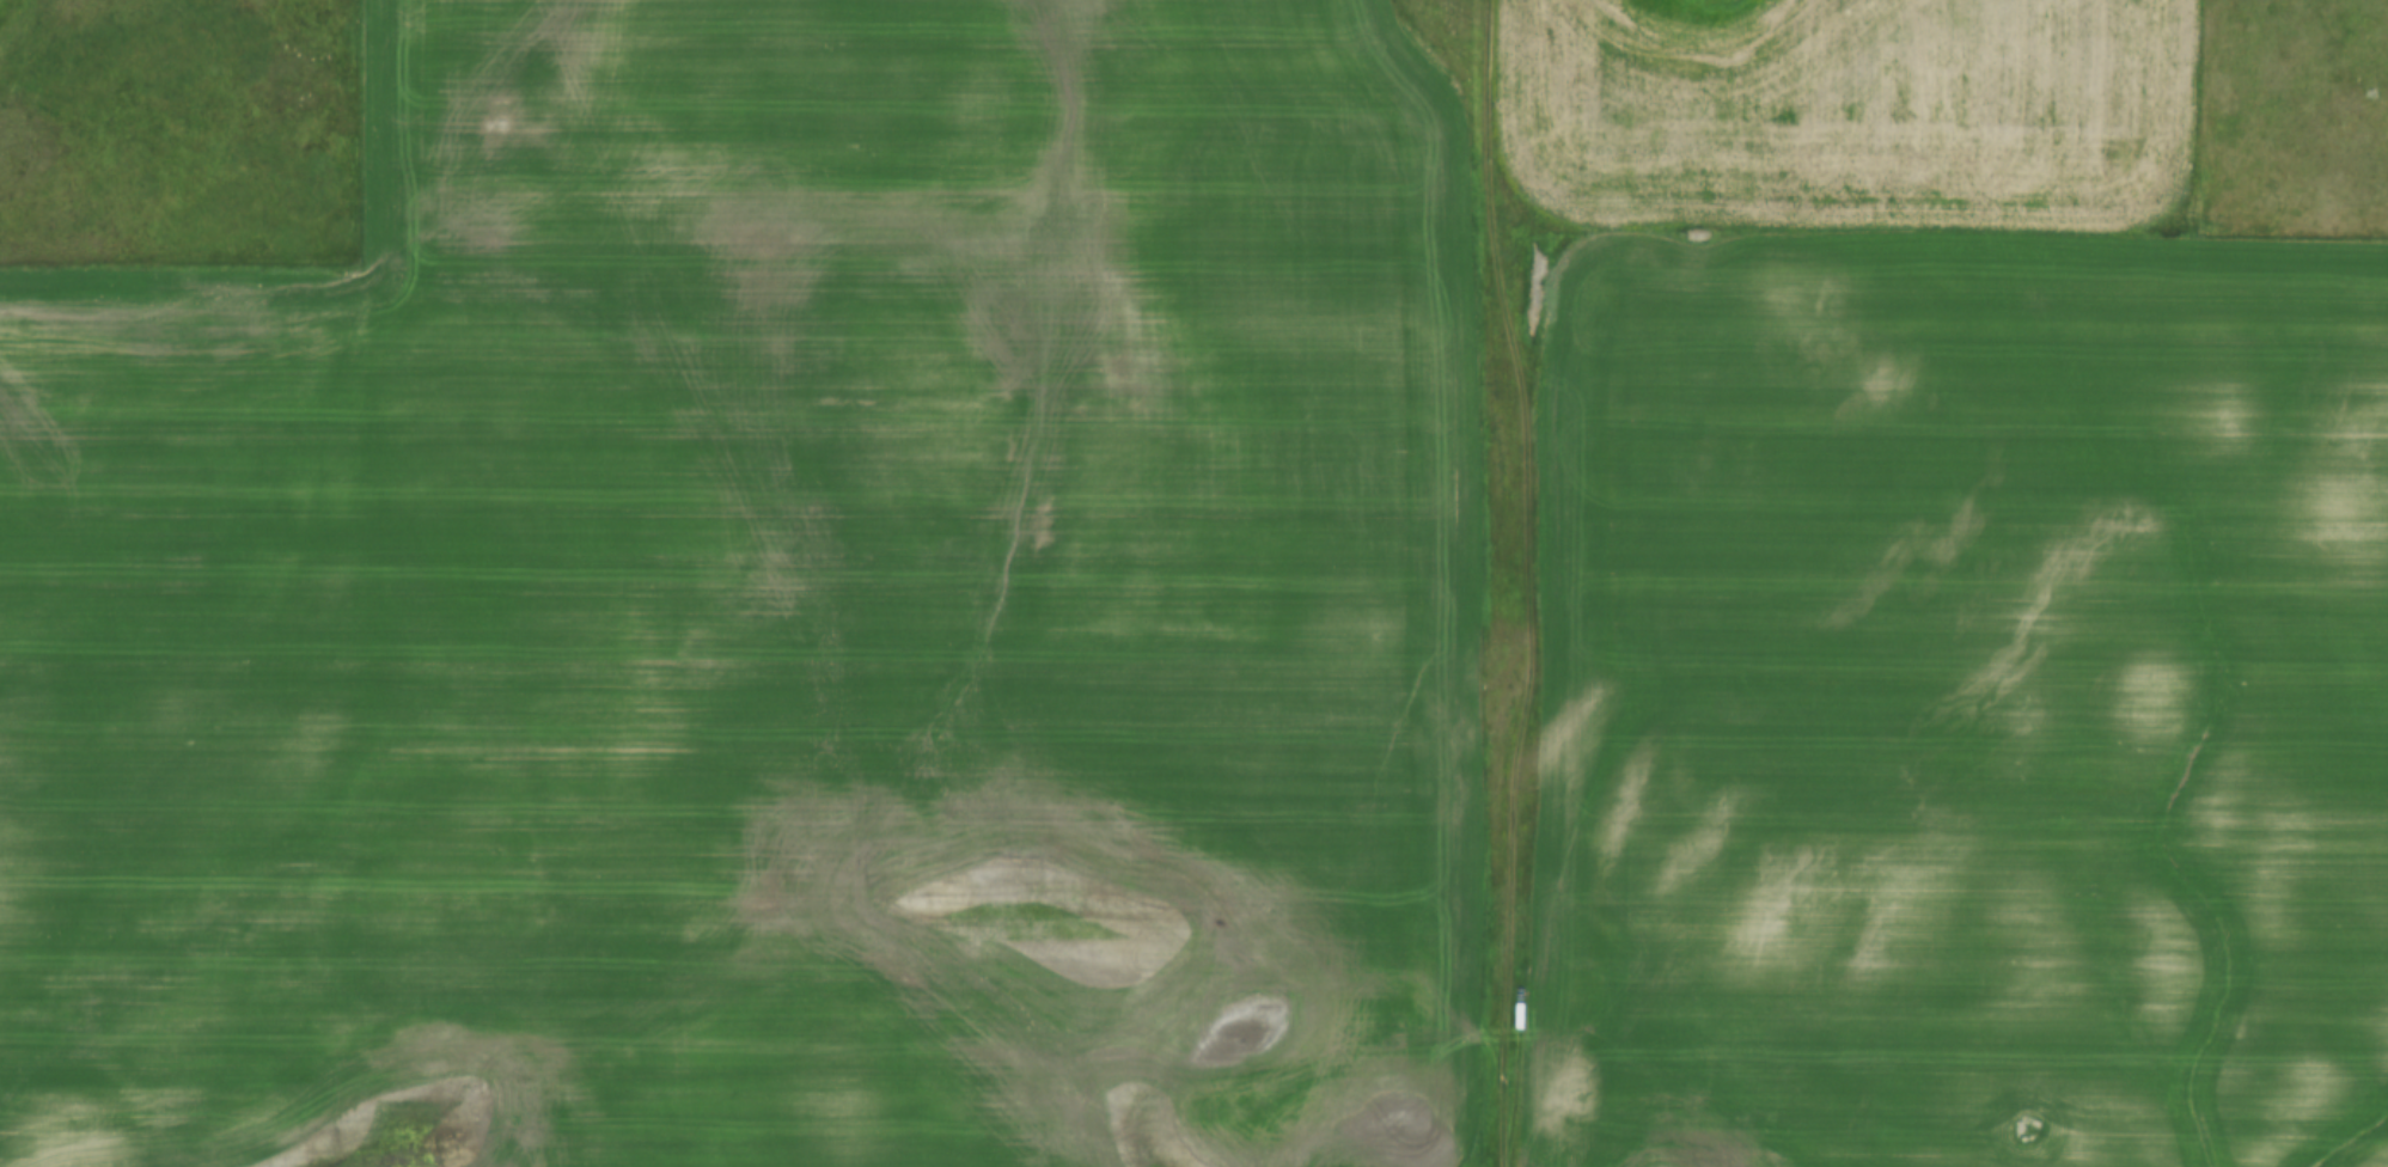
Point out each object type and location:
road: (1511, 582)

